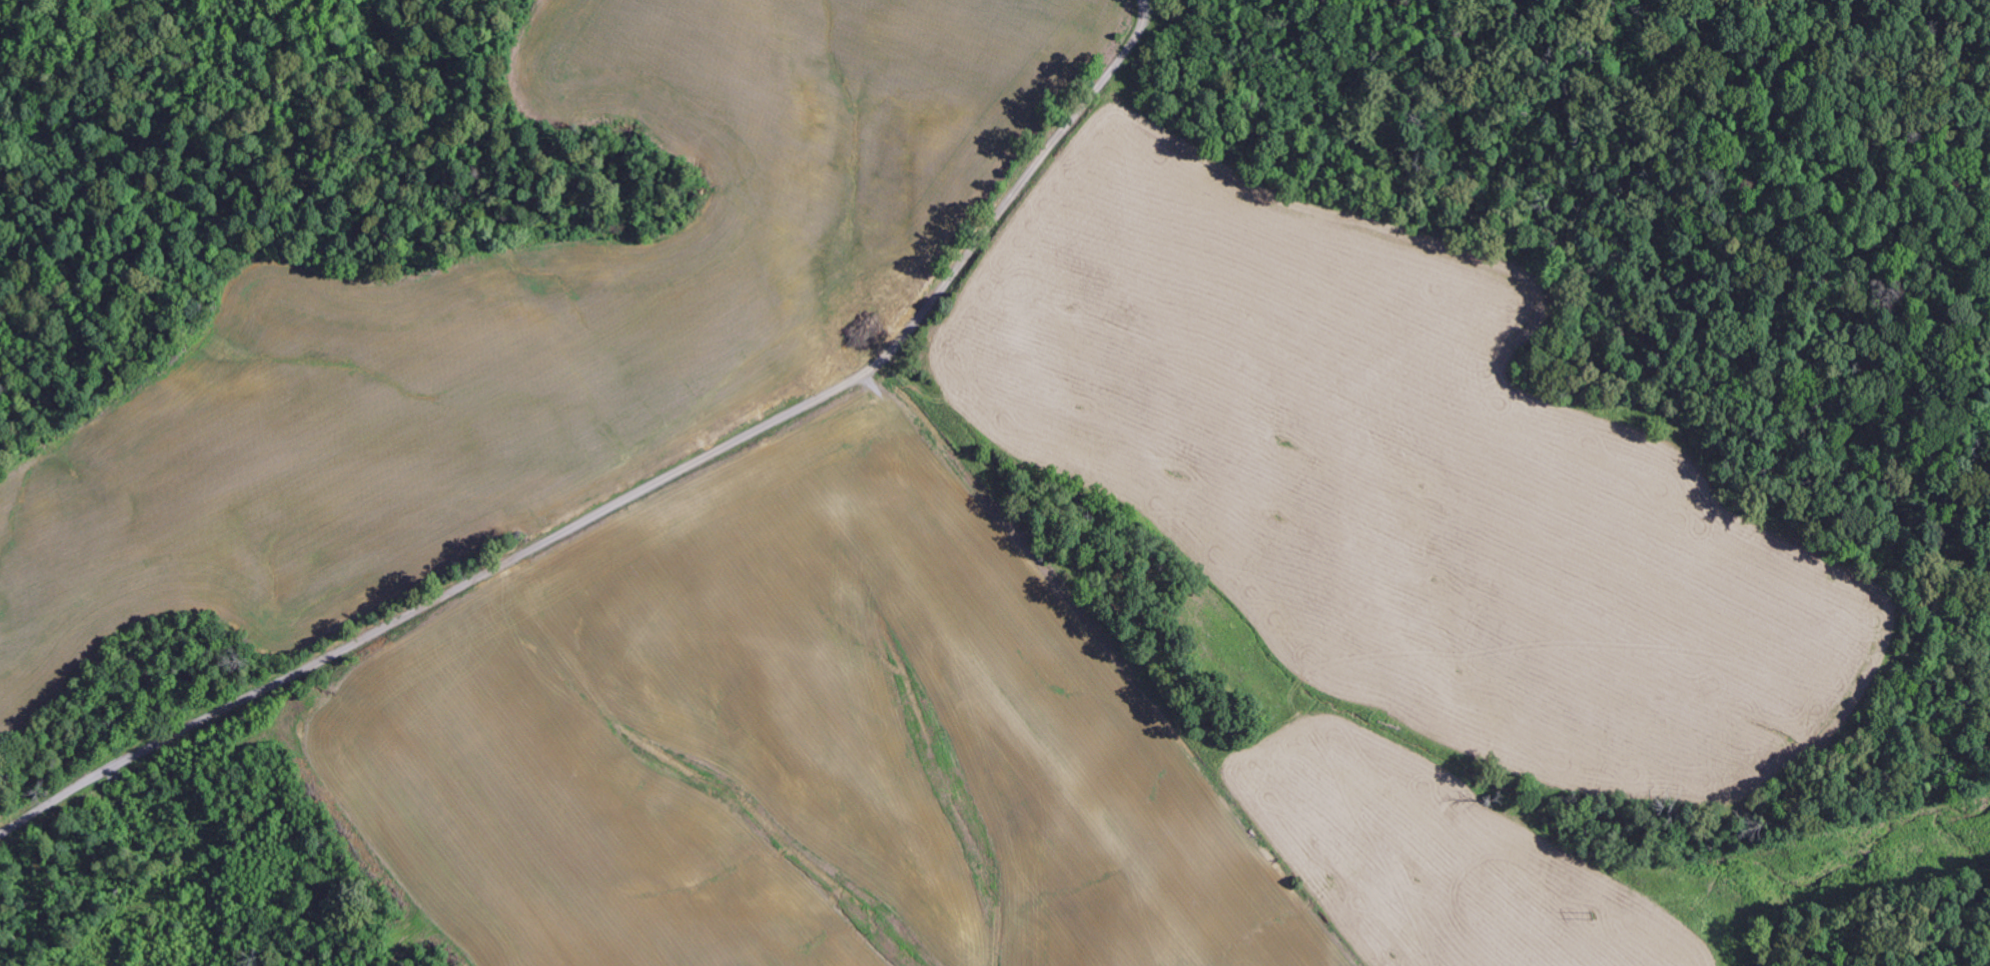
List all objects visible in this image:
road: (639, 492)

